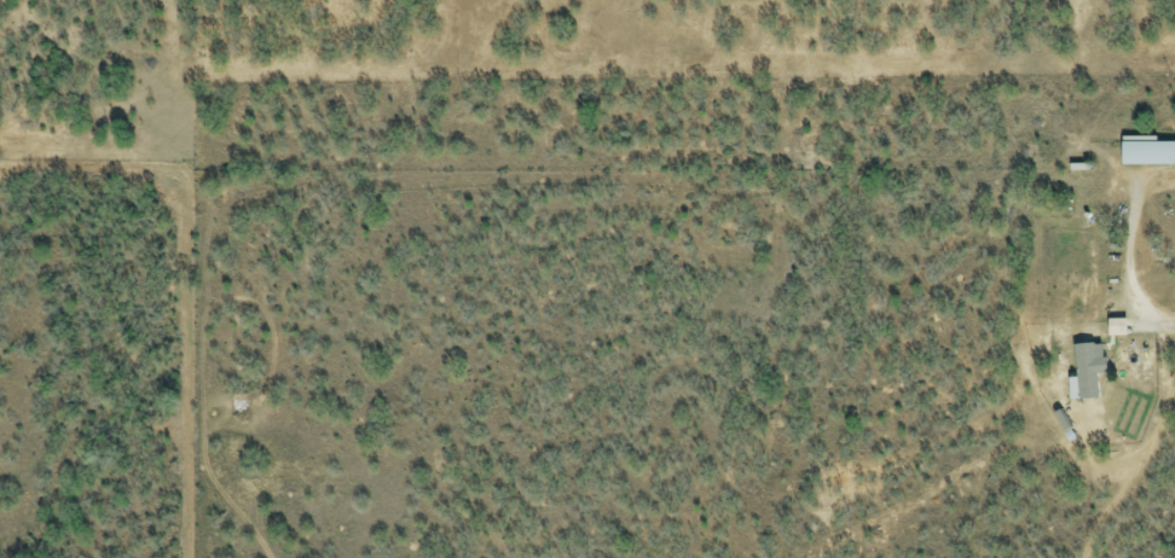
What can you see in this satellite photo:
building: (1146, 155)
road: (1125, 272)

